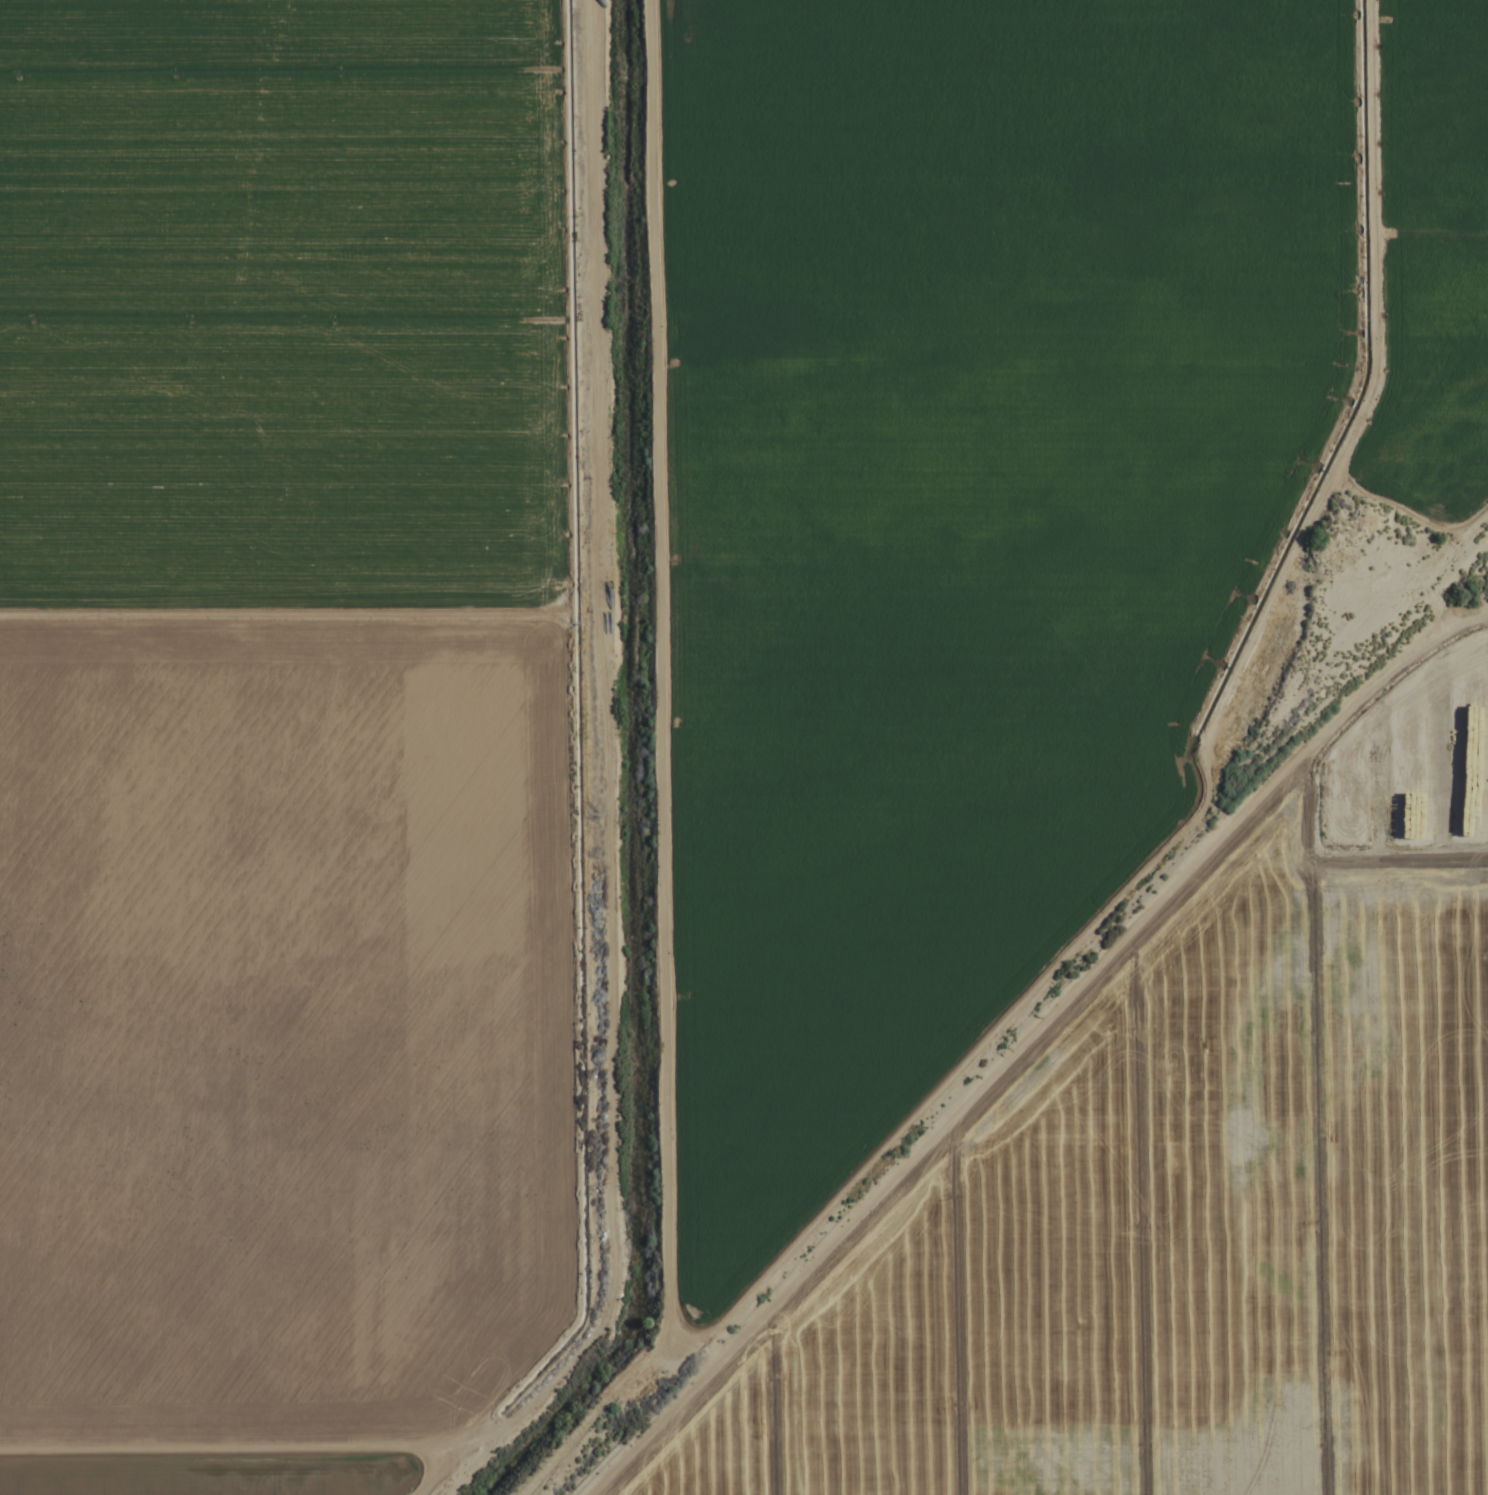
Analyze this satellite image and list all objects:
crop: (744, 747)

